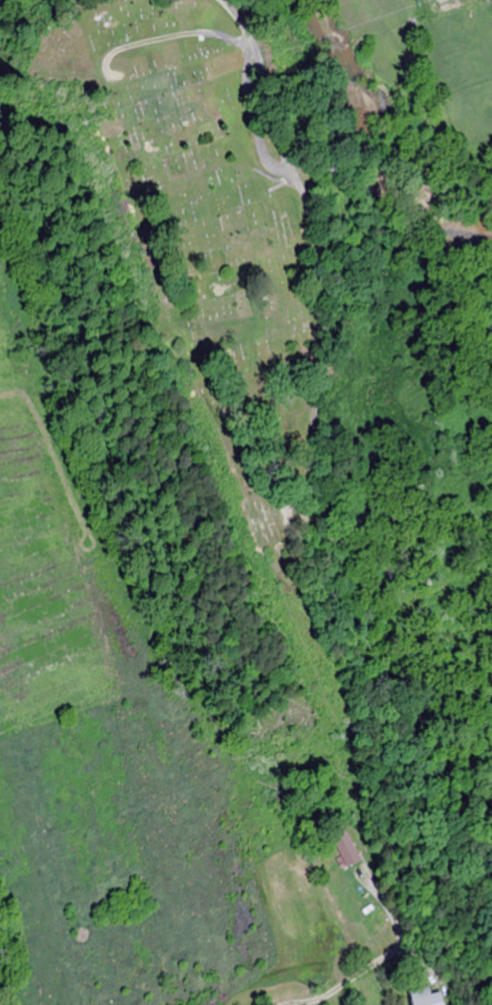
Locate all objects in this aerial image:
road: (165, 37)
road: (262, 82)
road: (253, 115)
river: (375, 145)
road: (276, 178)
road: (284, 180)
park: (222, 250)
road: (325, 341)
building: (343, 852)
park: (467, 890)
road: (285, 980)
building: (423, 998)

